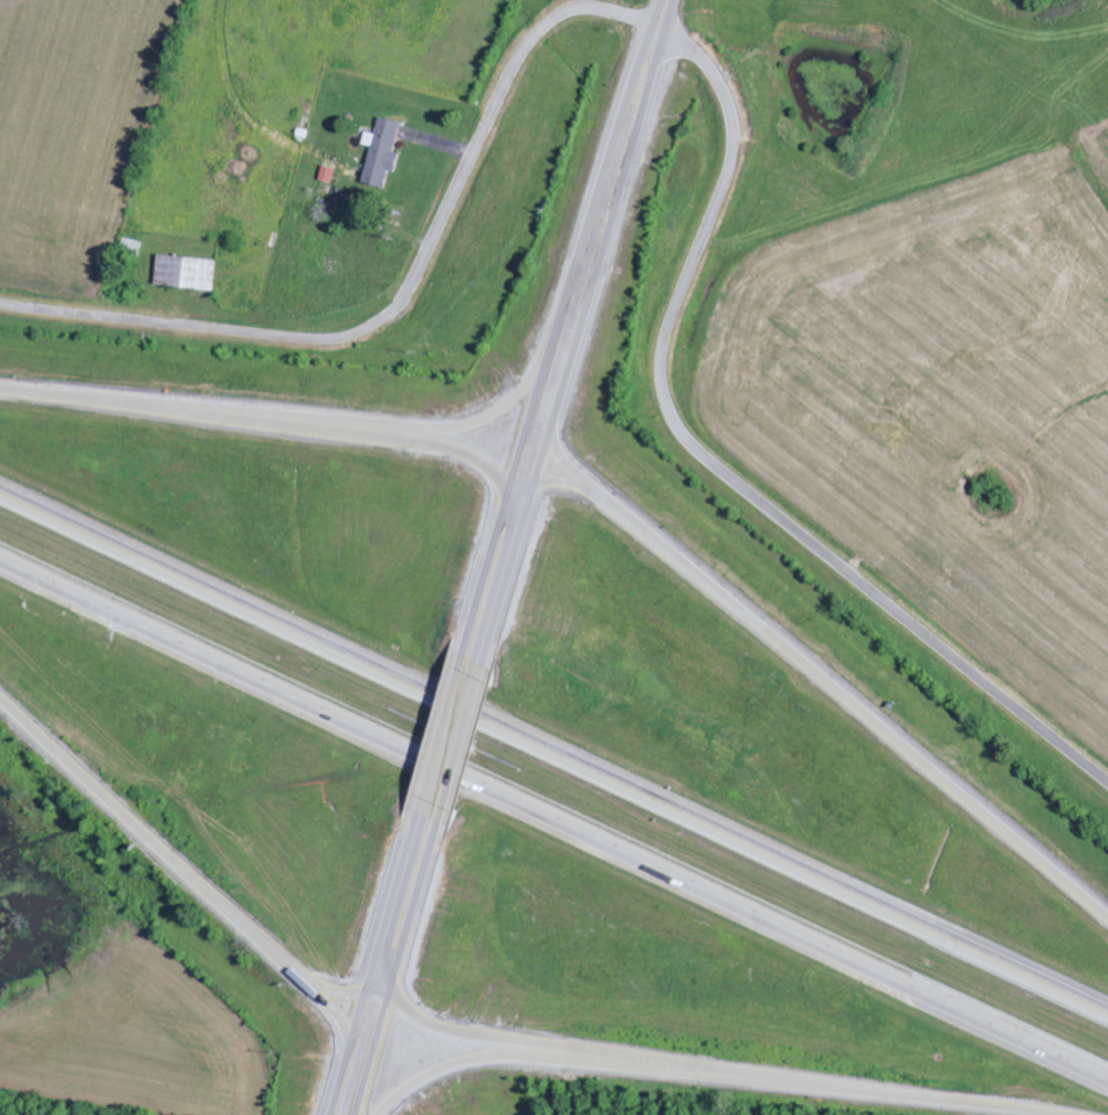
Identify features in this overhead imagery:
road: (664, 13)
building: (382, 154)
building: (328, 170)
building: (184, 274)
road: (405, 294)
road: (553, 347)
road: (573, 354)
road: (279, 419)
road: (451, 429)
road: (717, 466)
road: (592, 493)
road: (817, 674)
road: (437, 734)
road: (457, 743)
road: (553, 753)
road: (553, 820)
road: (193, 877)
road: (380, 957)
road: (399, 960)
road: (330, 1004)
road: (504, 1056)
road: (694, 1072)

